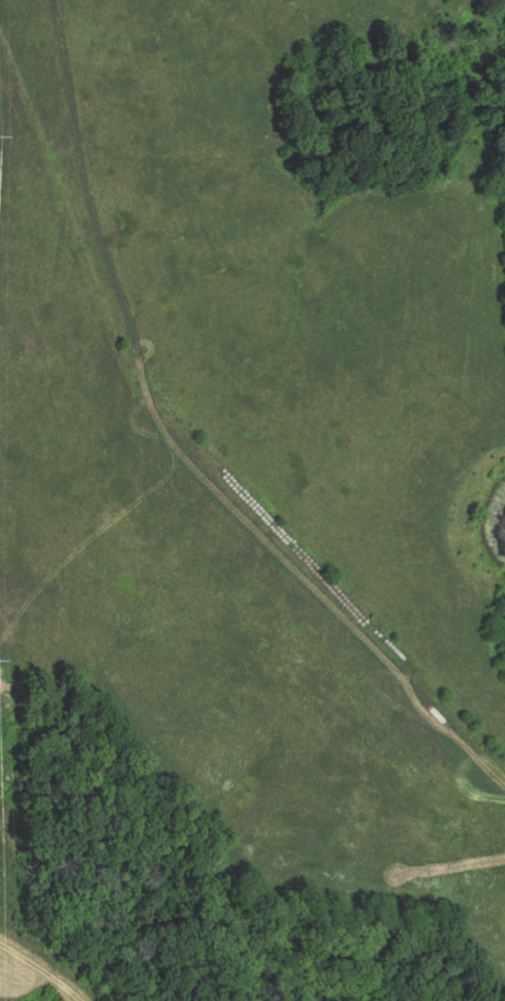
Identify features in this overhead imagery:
road: (57, 958)

